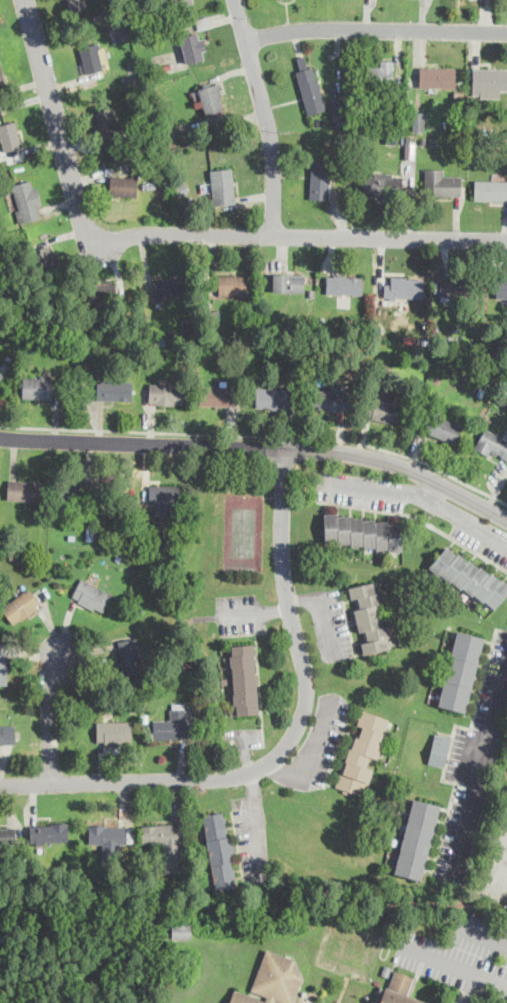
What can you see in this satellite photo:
building: (178, 1)
building: (76, 4)
road: (376, 28)
building: (191, 46)
building: (91, 60)
building: (381, 74)
building: (437, 76)
building: (2, 77)
building: (489, 78)
building: (310, 87)
building: (210, 97)
building: (339, 110)
road: (266, 115)
building: (418, 119)
building: (108, 123)
building: (9, 135)
building: (410, 146)
building: (319, 177)
building: (441, 182)
building: (381, 183)
building: (123, 184)
building: (222, 186)
building: (490, 189)
building: (25, 200)
road: (175, 233)
building: (46, 258)
building: (288, 282)
building: (343, 283)
building: (231, 284)
building: (450, 285)
building: (166, 286)
building: (406, 287)
building: (501, 287)
building: (99, 291)
building: (0, 374)
building: (36, 386)
building: (113, 389)
building: (165, 393)
building: (217, 393)
building: (272, 397)
building: (330, 399)
building: (389, 408)
building: (442, 427)
road: (260, 435)
building: (493, 443)
road: (260, 446)
road: (428, 486)
building: (24, 488)
building: (73, 493)
road: (420, 493)
building: (164, 497)
road: (417, 516)
park: (242, 531)
building: (363, 531)
building: (470, 576)
building: (90, 594)
building: (21, 604)
road: (255, 612)
road: (323, 612)
building: (370, 617)
building: (129, 655)
building: (3, 666)
building: (460, 670)
building: (244, 678)
road: (50, 714)
building: (171, 724)
building: (113, 730)
building: (7, 733)
road: (288, 740)
building: (439, 749)
road: (313, 750)
building: (362, 752)
road: (478, 768)
road: (256, 824)
building: (48, 832)
building: (7, 833)
building: (161, 834)
building: (109, 835)
building: (417, 838)
building: (220, 849)
parking lot: (502, 849)
building: (181, 929)
road: (483, 935)
parking lot: (462, 954)
road: (454, 965)
building: (272, 981)
road: (471, 988)
building: (401, 989)

